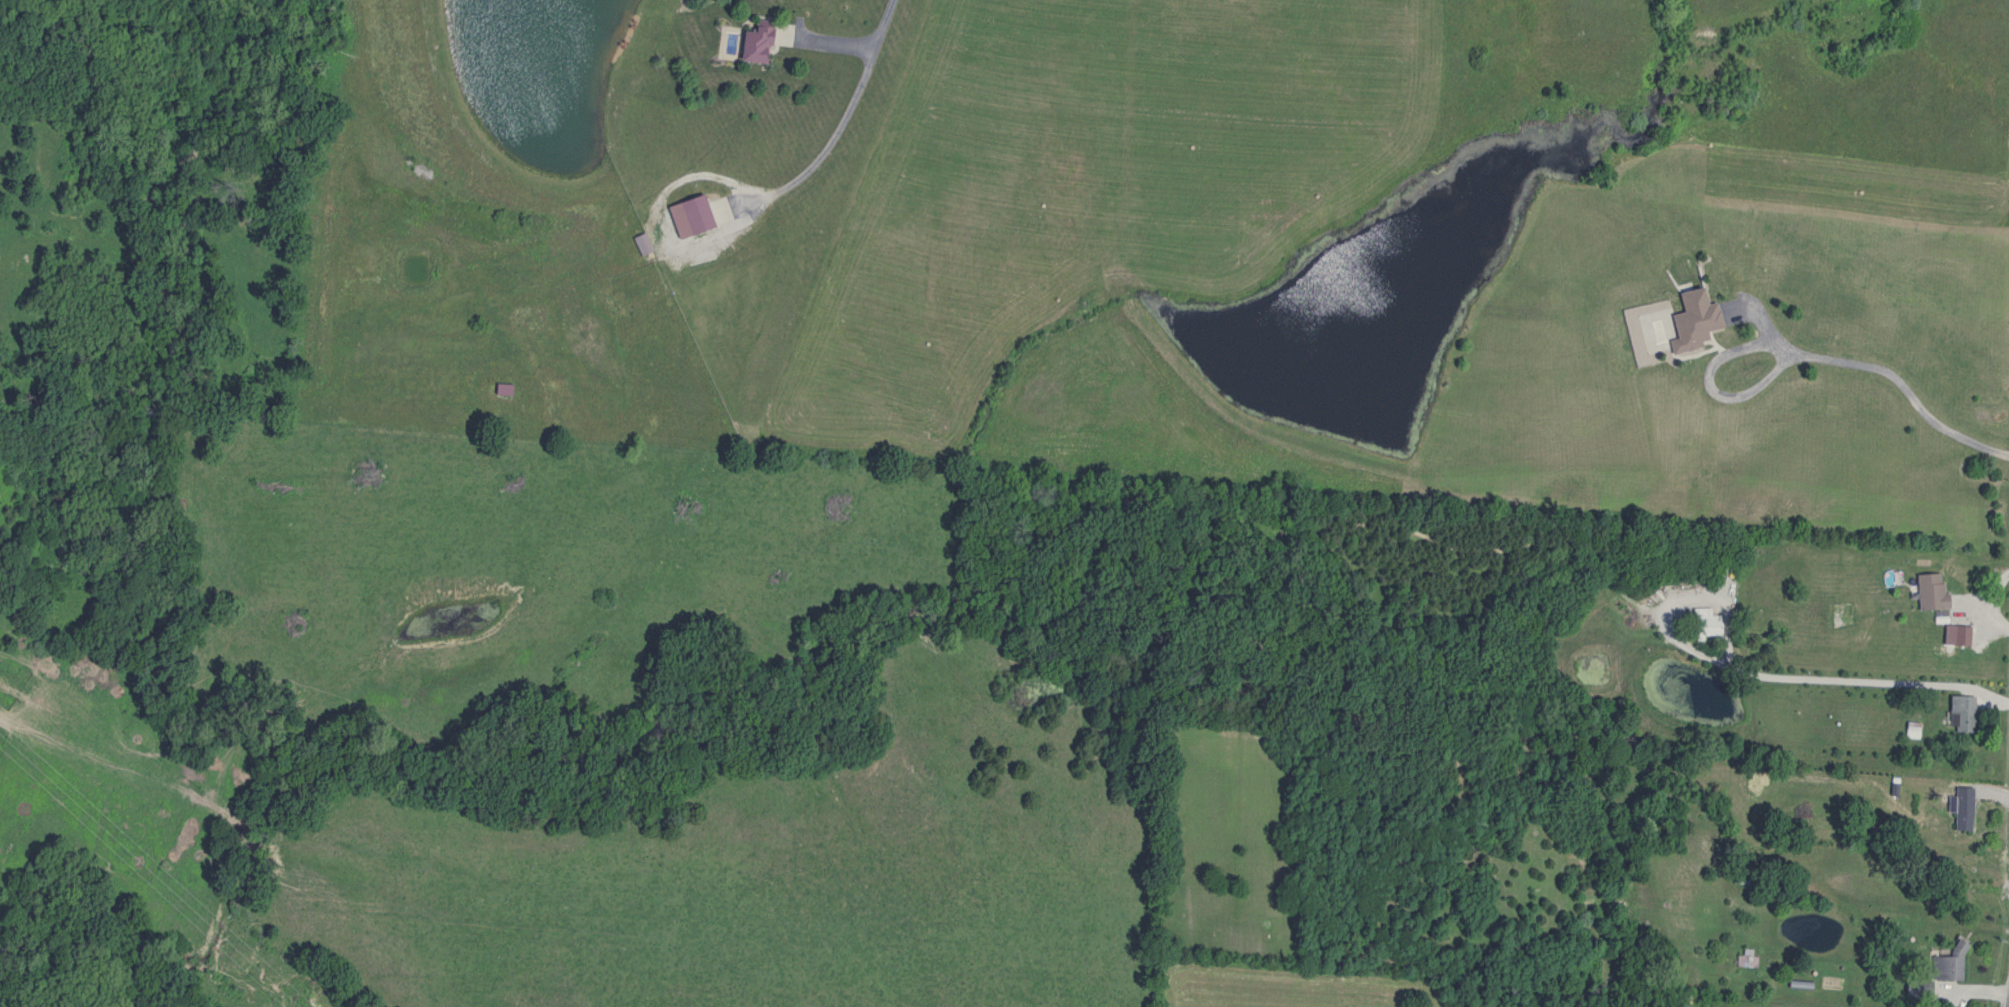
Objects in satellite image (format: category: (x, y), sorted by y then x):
building: (752, 42)
road: (834, 129)
building: (685, 216)
building: (1691, 321)
road: (1706, 381)
building: (506, 388)
road: (1902, 388)
building: (1928, 593)
road: (1670, 597)
building: (1702, 623)
building: (1957, 636)
road: (1869, 679)
building: (1959, 714)
building: (1961, 809)
building: (1947, 964)
building: (1913, 988)

